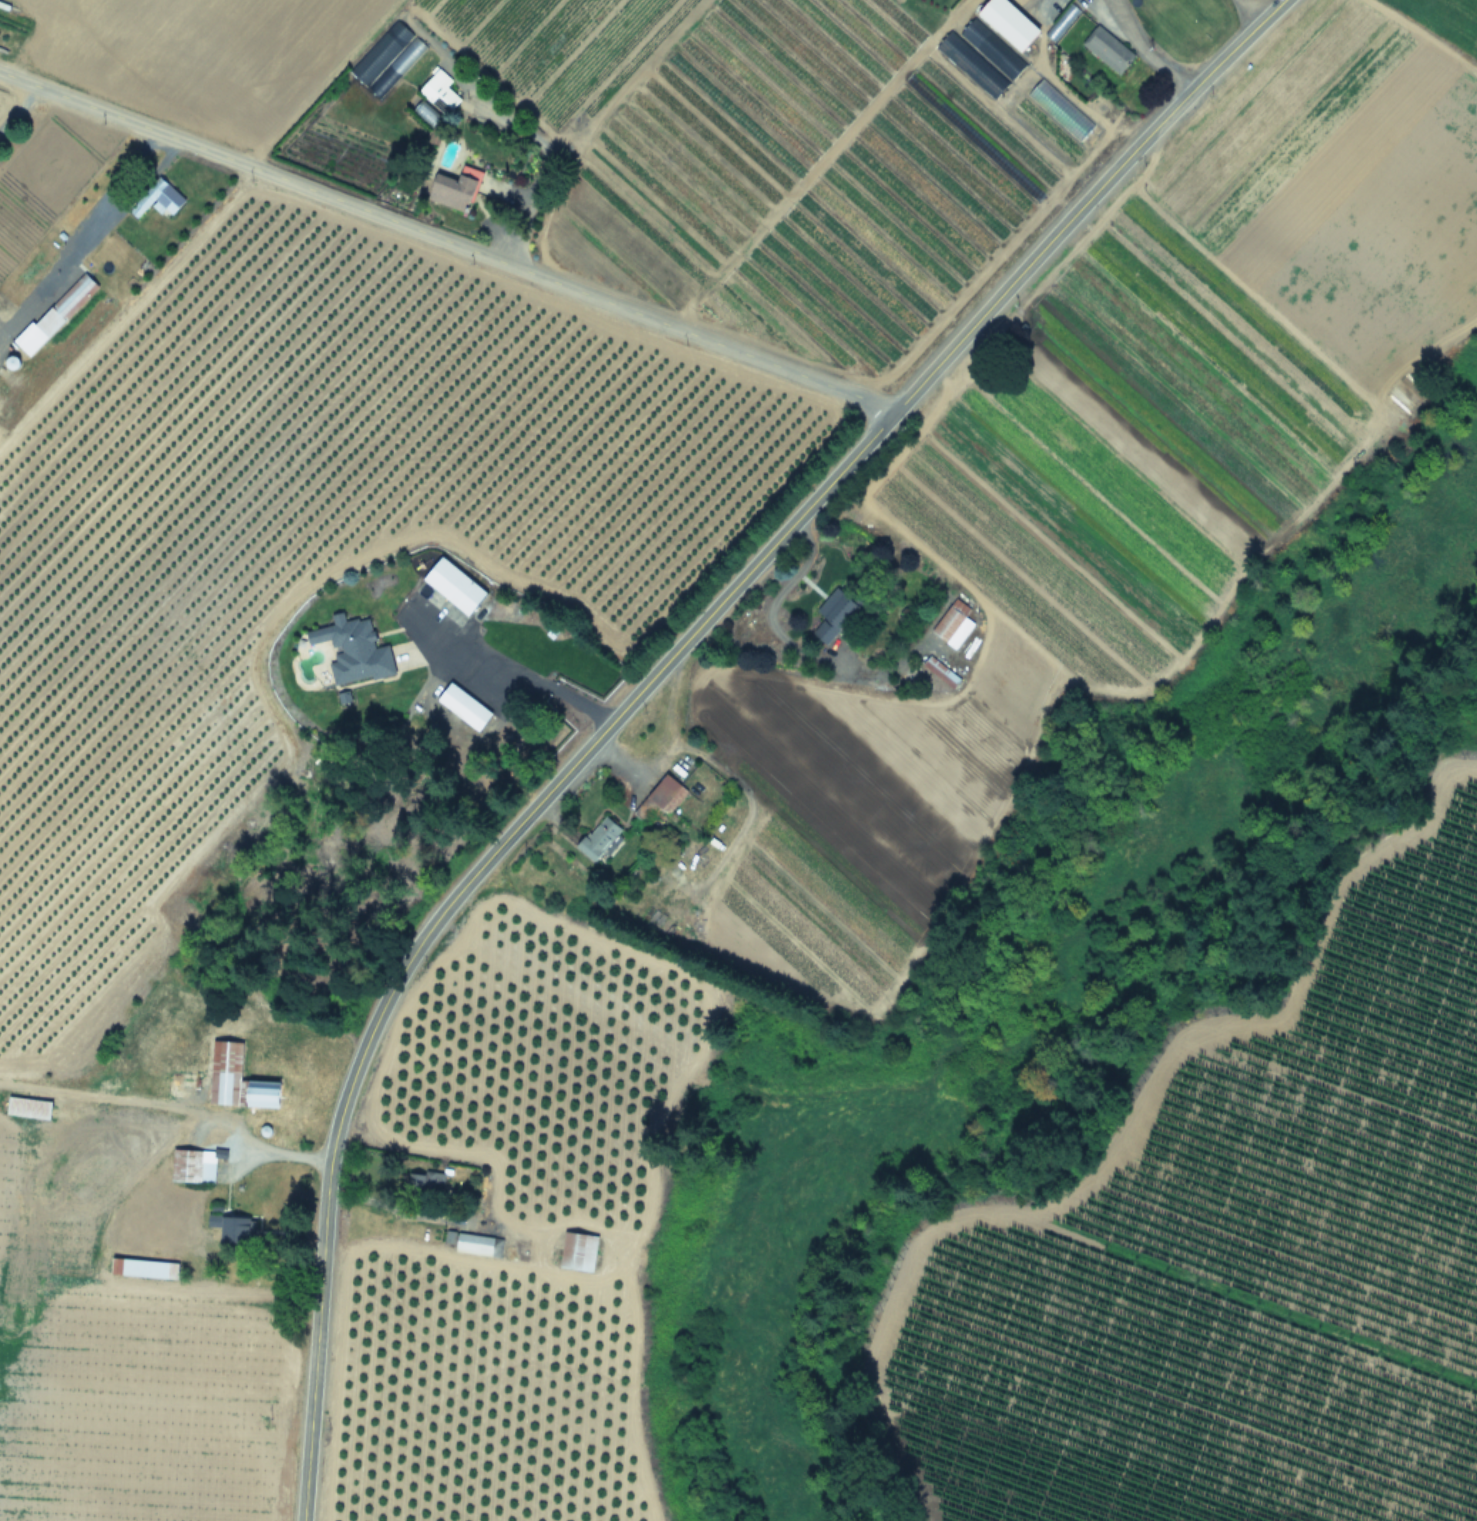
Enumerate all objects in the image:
road: (1250, 11)
crop: (1435, 26)
building: (1108, 50)
road: (1143, 50)
building: (387, 59)
building: (981, 59)
road: (1062, 87)
building: (939, 89)
building: (441, 93)
road: (16, 104)
building: (1060, 111)
crop: (675, 125)
road: (814, 158)
building: (458, 191)
building: (162, 201)
road: (1086, 202)
road: (82, 232)
road: (447, 242)
building: (48, 257)
building: (58, 315)
crop: (1047, 545)
building: (458, 588)
road: (771, 603)
building: (836, 620)
building: (951, 621)
building: (352, 654)
road: (514, 672)
crop: (281, 703)
building: (467, 707)
building: (668, 794)
building: (600, 838)
road: (454, 897)
building: (231, 1083)
building: (30, 1109)
road: (192, 1110)
building: (194, 1167)
building: (426, 1182)
road: (390, 1207)
building: (228, 1228)
building: (480, 1245)
crop: (1242, 1249)
building: (580, 1252)
building: (145, 1269)

